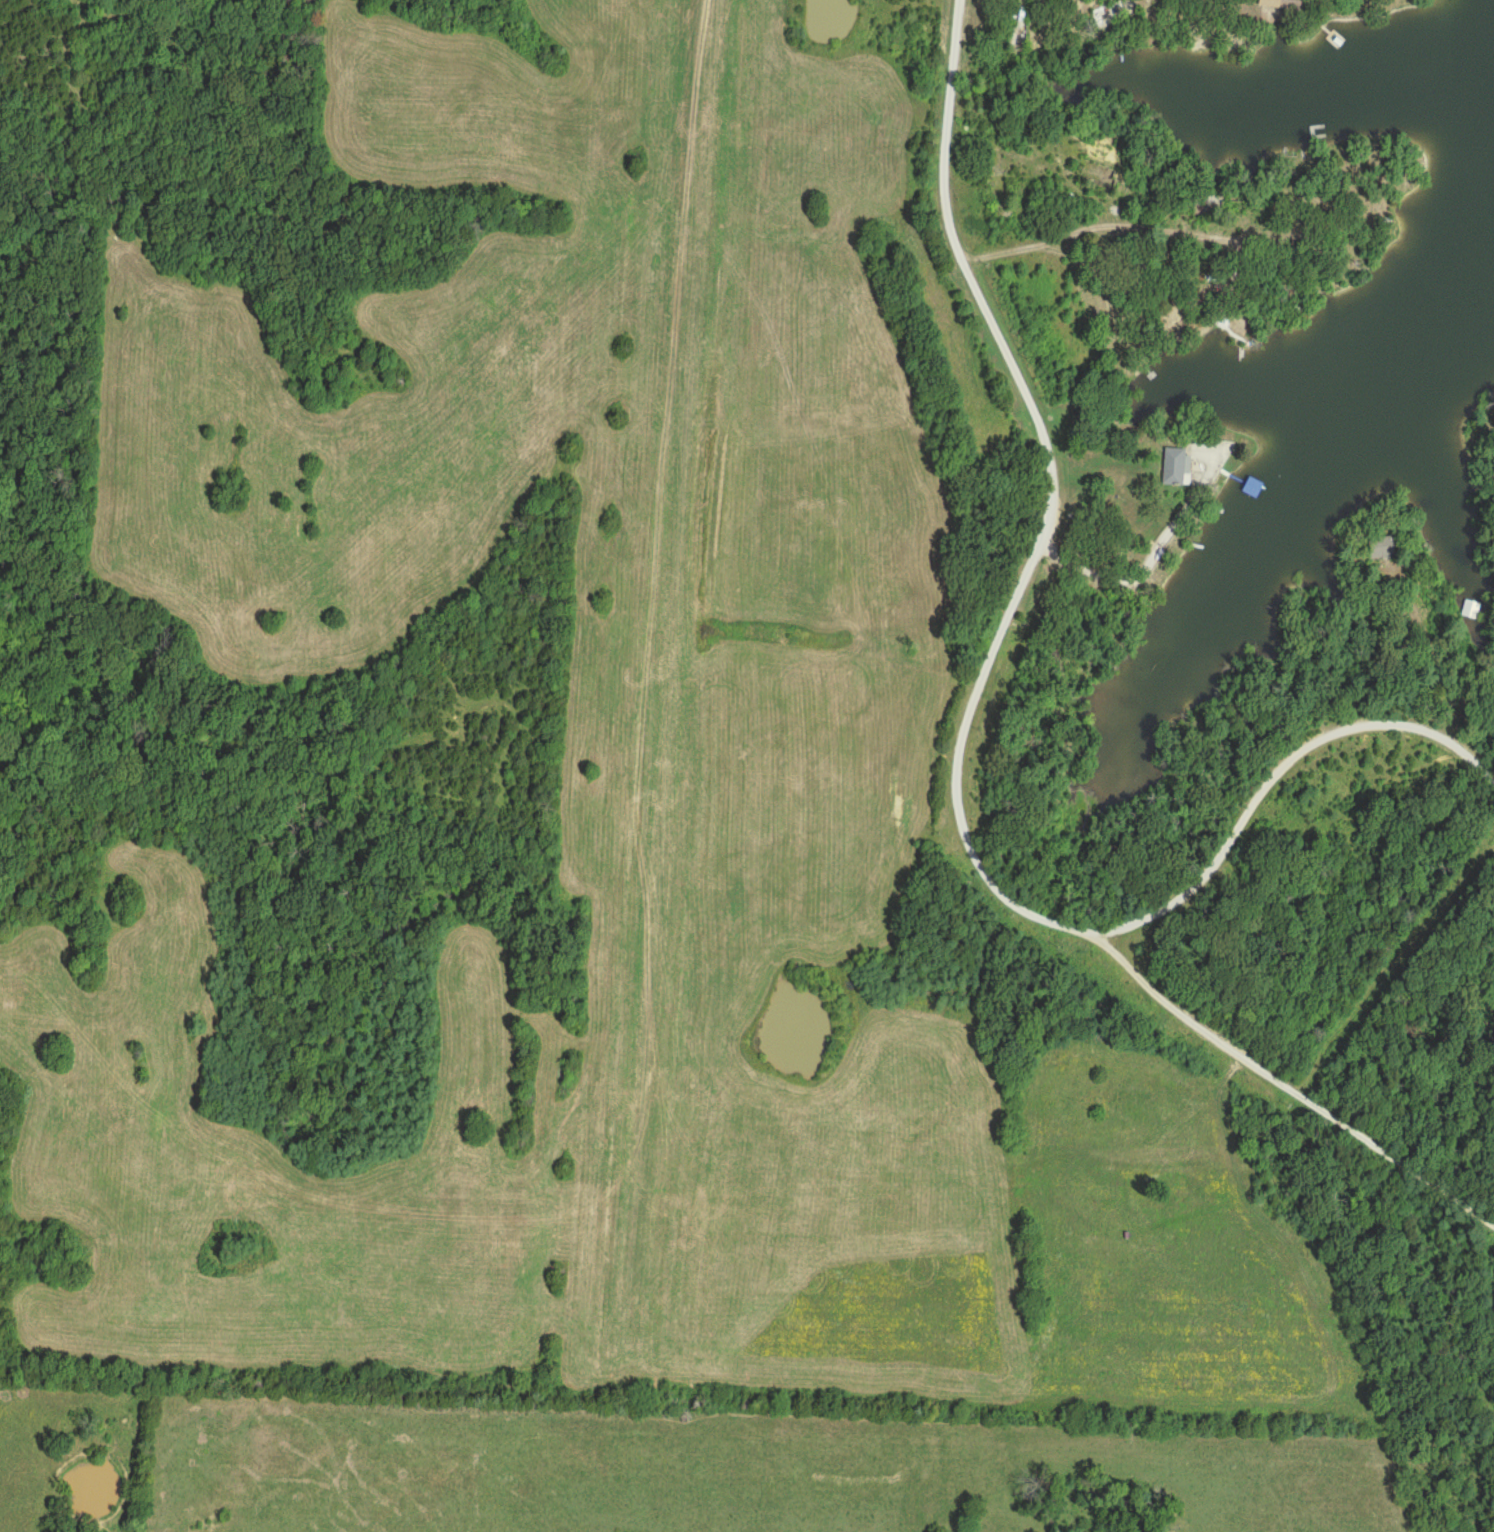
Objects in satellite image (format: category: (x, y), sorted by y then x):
building: (1280, 4)
road: (1115, 228)
building: (1218, 341)
building: (1174, 467)
building: (1247, 489)
building: (1427, 505)
building: (1381, 550)
road: (1152, 561)
airport runway: (658, 690)
road: (959, 733)
road: (1277, 774)

